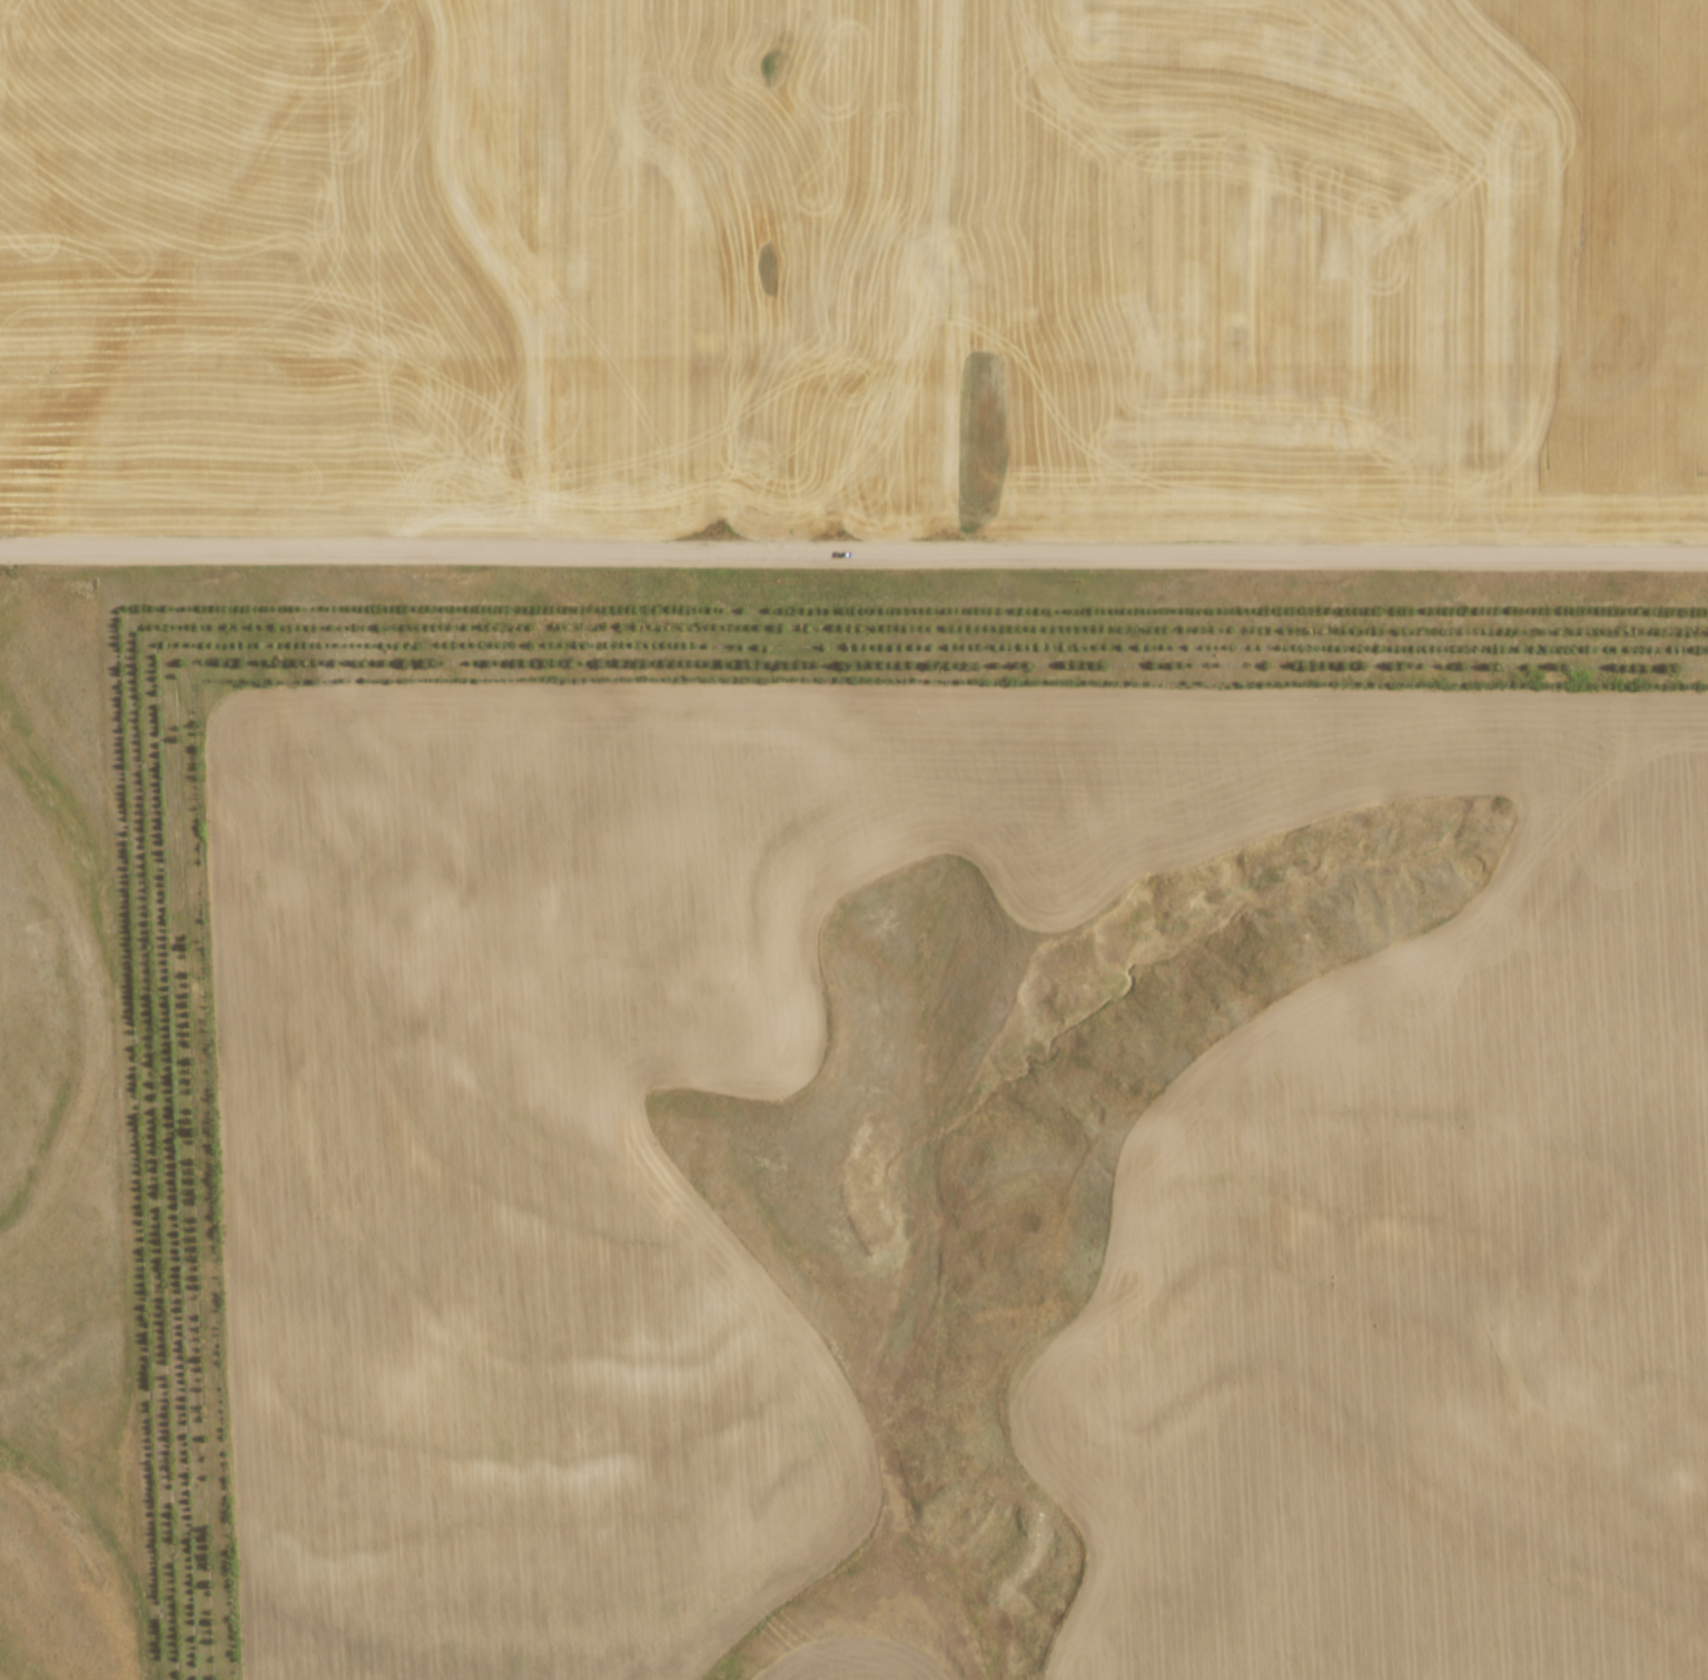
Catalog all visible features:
road: (853, 553)

